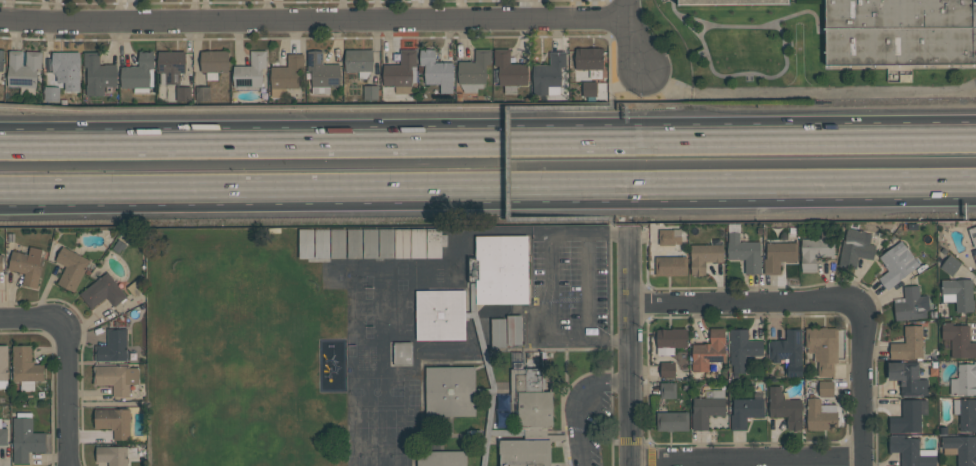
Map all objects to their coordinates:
building: (729, 1)
road: (314, 21)
building: (899, 32)
road: (634, 36)
building: (1, 59)
building: (589, 60)
building: (359, 62)
building: (213, 63)
building: (170, 65)
building: (23, 70)
building: (322, 70)
building: (250, 71)
building: (436, 71)
building: (473, 71)
building: (510, 71)
building: (67, 72)
building: (401, 72)
building: (139, 73)
building: (98, 74)
building: (285, 75)
building: (548, 75)
building: (589, 88)
building: (370, 92)
building: (202, 93)
building: (51, 94)
building: (183, 94)
road: (807, 94)
road: (590, 109)
road: (488, 134)
road: (511, 165)
road: (488, 194)
road: (580, 221)
building: (972, 234)
building: (669, 237)
building: (386, 242)
building: (402, 242)
building: (306, 243)
building: (321, 243)
building: (337, 243)
building: (353, 243)
building: (370, 243)
building: (418, 243)
building: (433, 243)
building: (855, 248)
building: (703, 252)
building: (744, 252)
building: (814, 252)
building: (778, 255)
building: (975, 257)
building: (1, 262)
building: (896, 264)
building: (27, 265)
building: (950, 265)
building: (671, 266)
building: (71, 268)
building: (499, 269)
road: (547, 281)
building: (102, 292)
building: (958, 293)
building: (911, 304)
road: (823, 308)
building: (440, 315)
building: (514, 330)
building: (498, 332)
building: (670, 340)
building: (958, 340)
building: (908, 344)
building: (113, 346)
building: (742, 348)
building: (822, 348)
building: (708, 351)
building: (788, 351)
building: (402, 353)
road: (636, 354)
building: (516, 360)
road: (66, 365)
building: (3, 366)
building: (25, 368)
building: (667, 370)
building: (908, 377)
building: (116, 378)
building: (964, 379)
building: (825, 389)
building: (668, 390)
building: (450, 391)
road: (578, 401)
building: (707, 408)
building: (784, 408)
building: (745, 411)
building: (965, 413)
building: (820, 415)
building: (908, 416)
building: (528, 420)
building: (672, 421)
building: (113, 422)
building: (3, 435)
building: (25, 438)
building: (960, 449)
building: (911, 451)
building: (112, 455)
building: (441, 458)
road: (748, 461)

